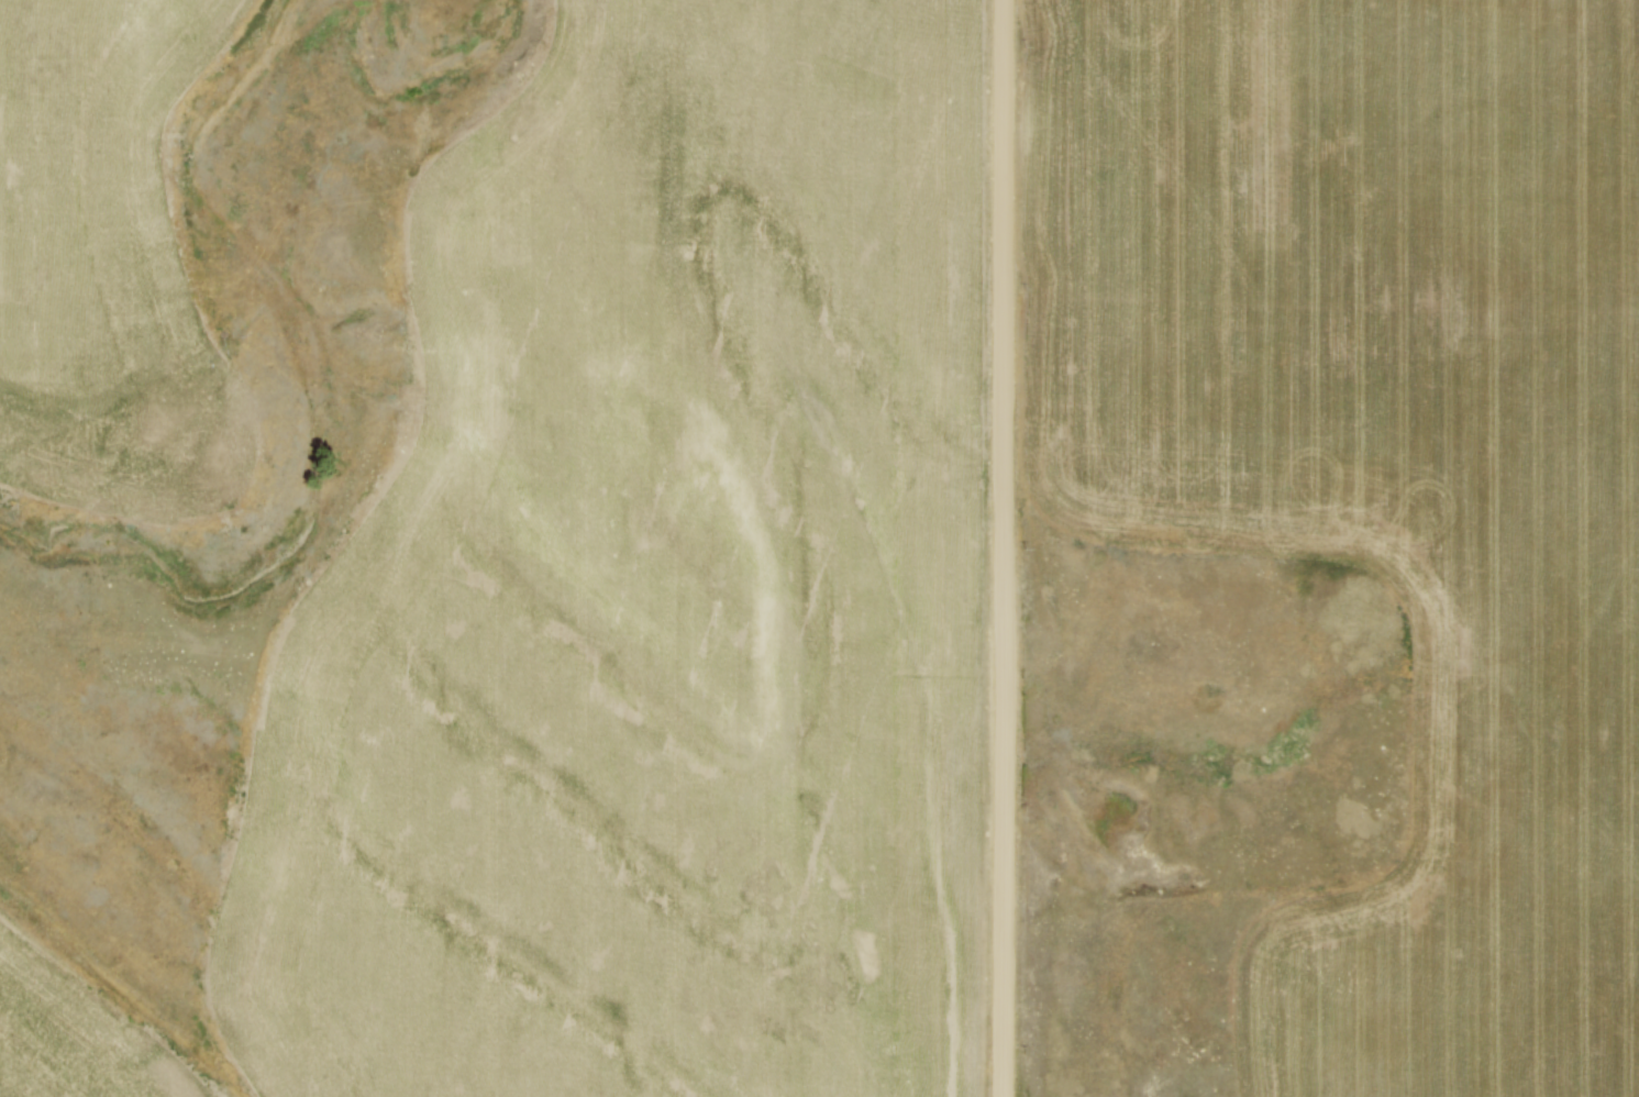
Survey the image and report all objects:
crop: (1380, 463)
road: (1003, 547)

